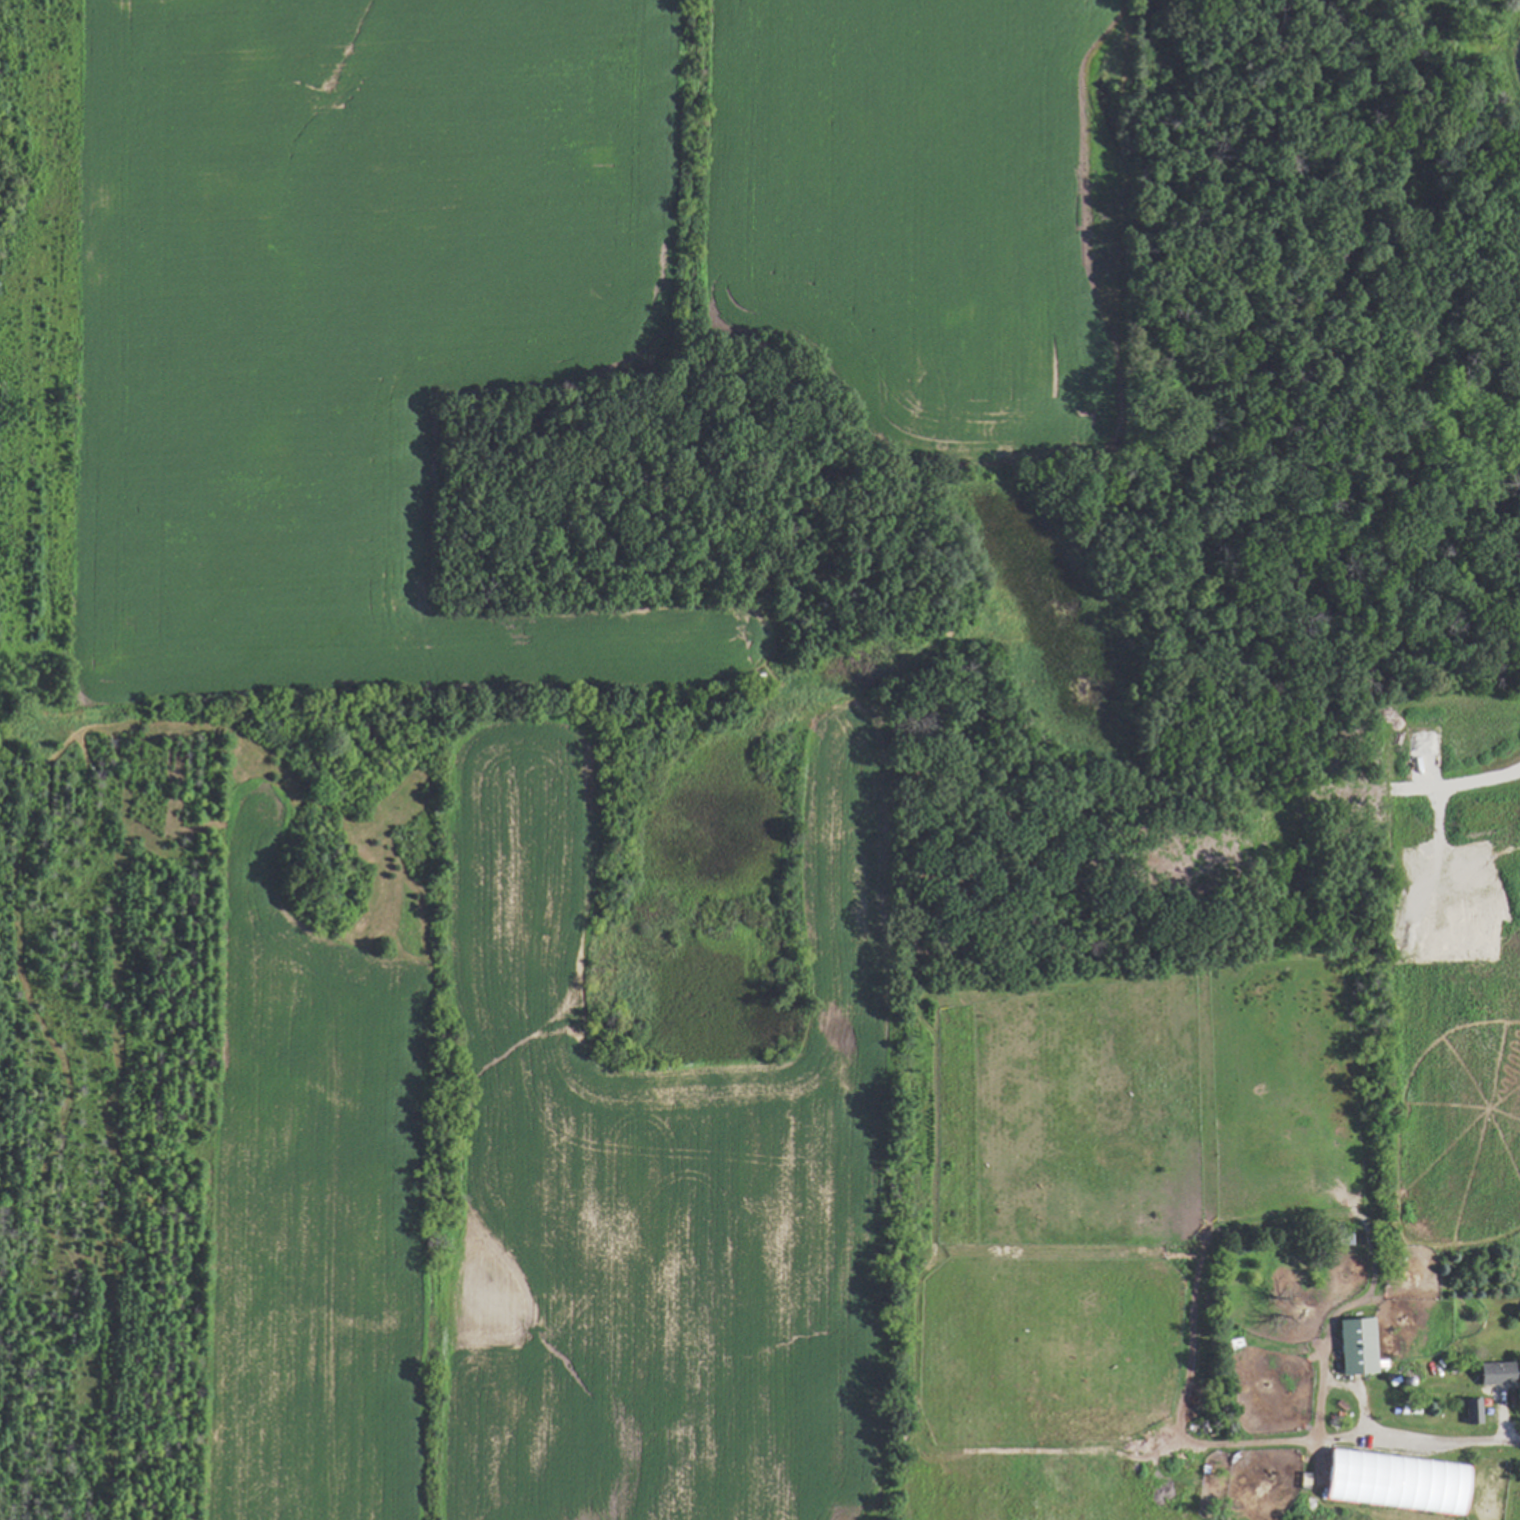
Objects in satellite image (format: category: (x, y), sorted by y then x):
crop: (533, 670)
road: (1479, 774)
crop: (3, 779)
building: (1354, 1346)
building: (1492, 1372)
building: (1470, 1410)
road: (1446, 1440)

